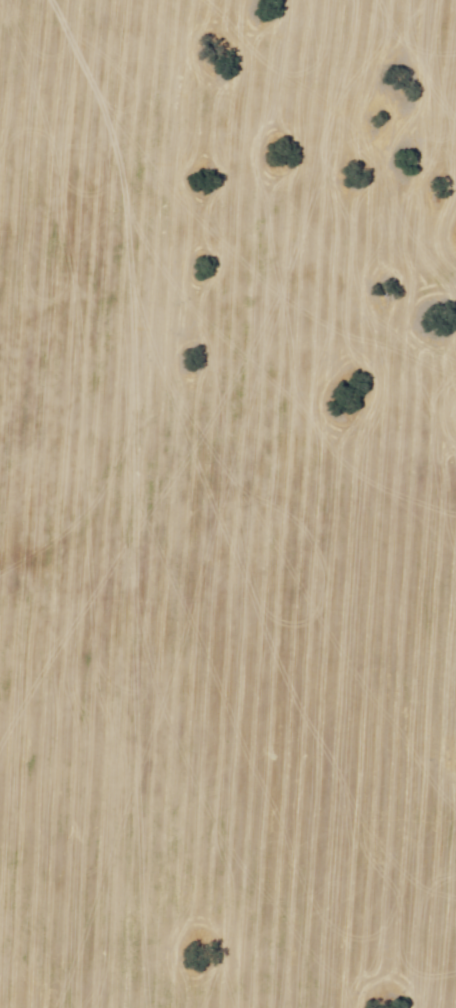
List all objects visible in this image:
crop: (228, 504)

